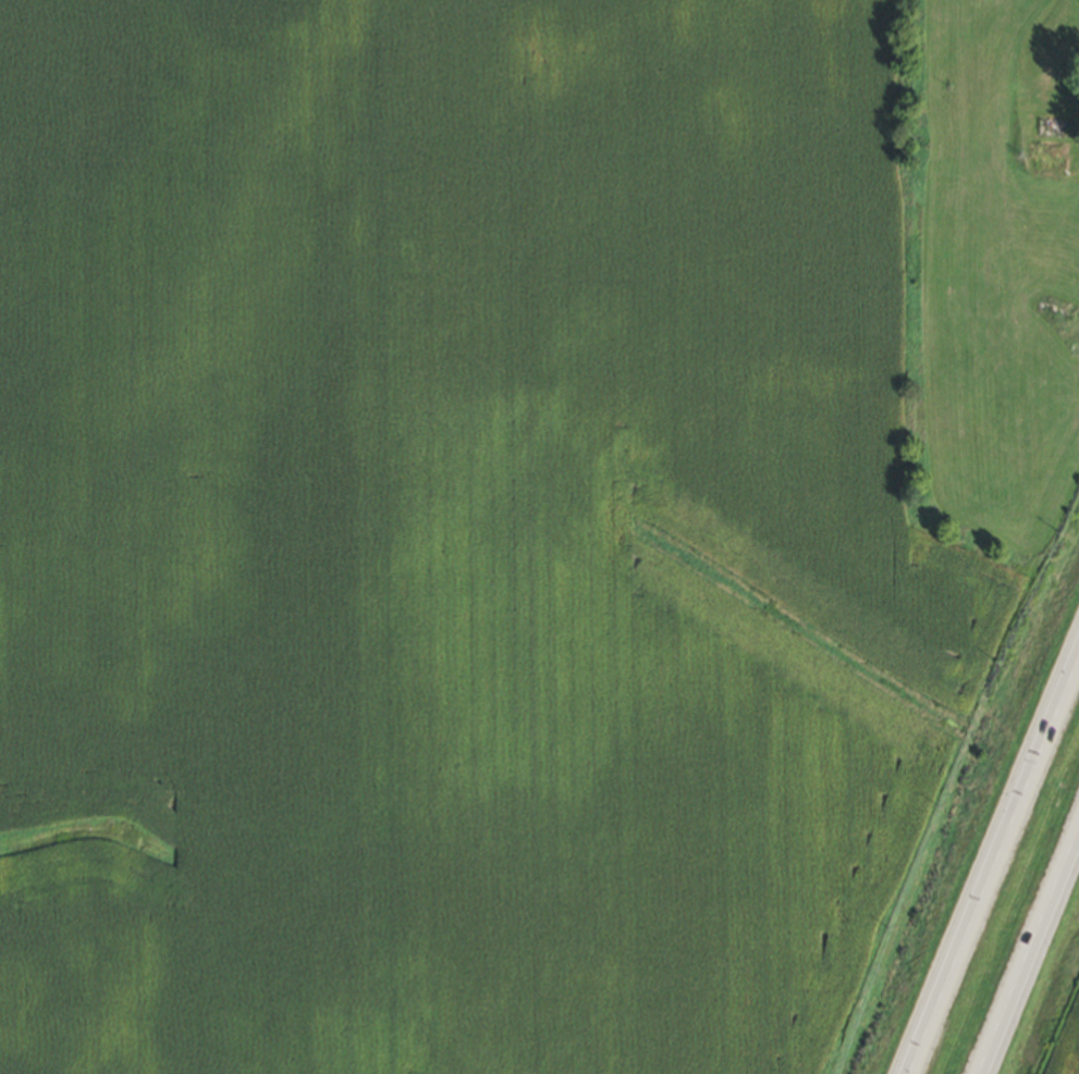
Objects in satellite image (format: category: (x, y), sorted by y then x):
road: (988, 855)
road: (1029, 952)

